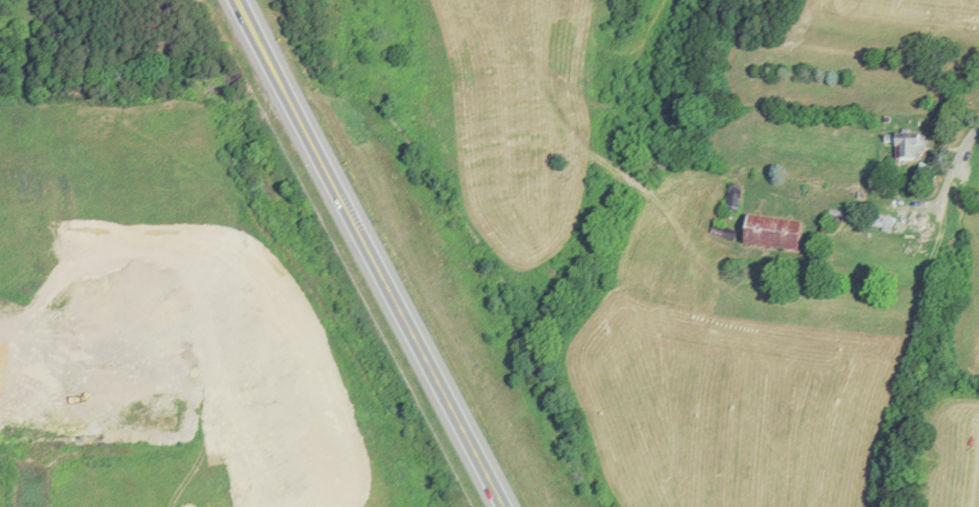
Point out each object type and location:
building: (907, 147)
road: (956, 171)
road: (370, 253)

